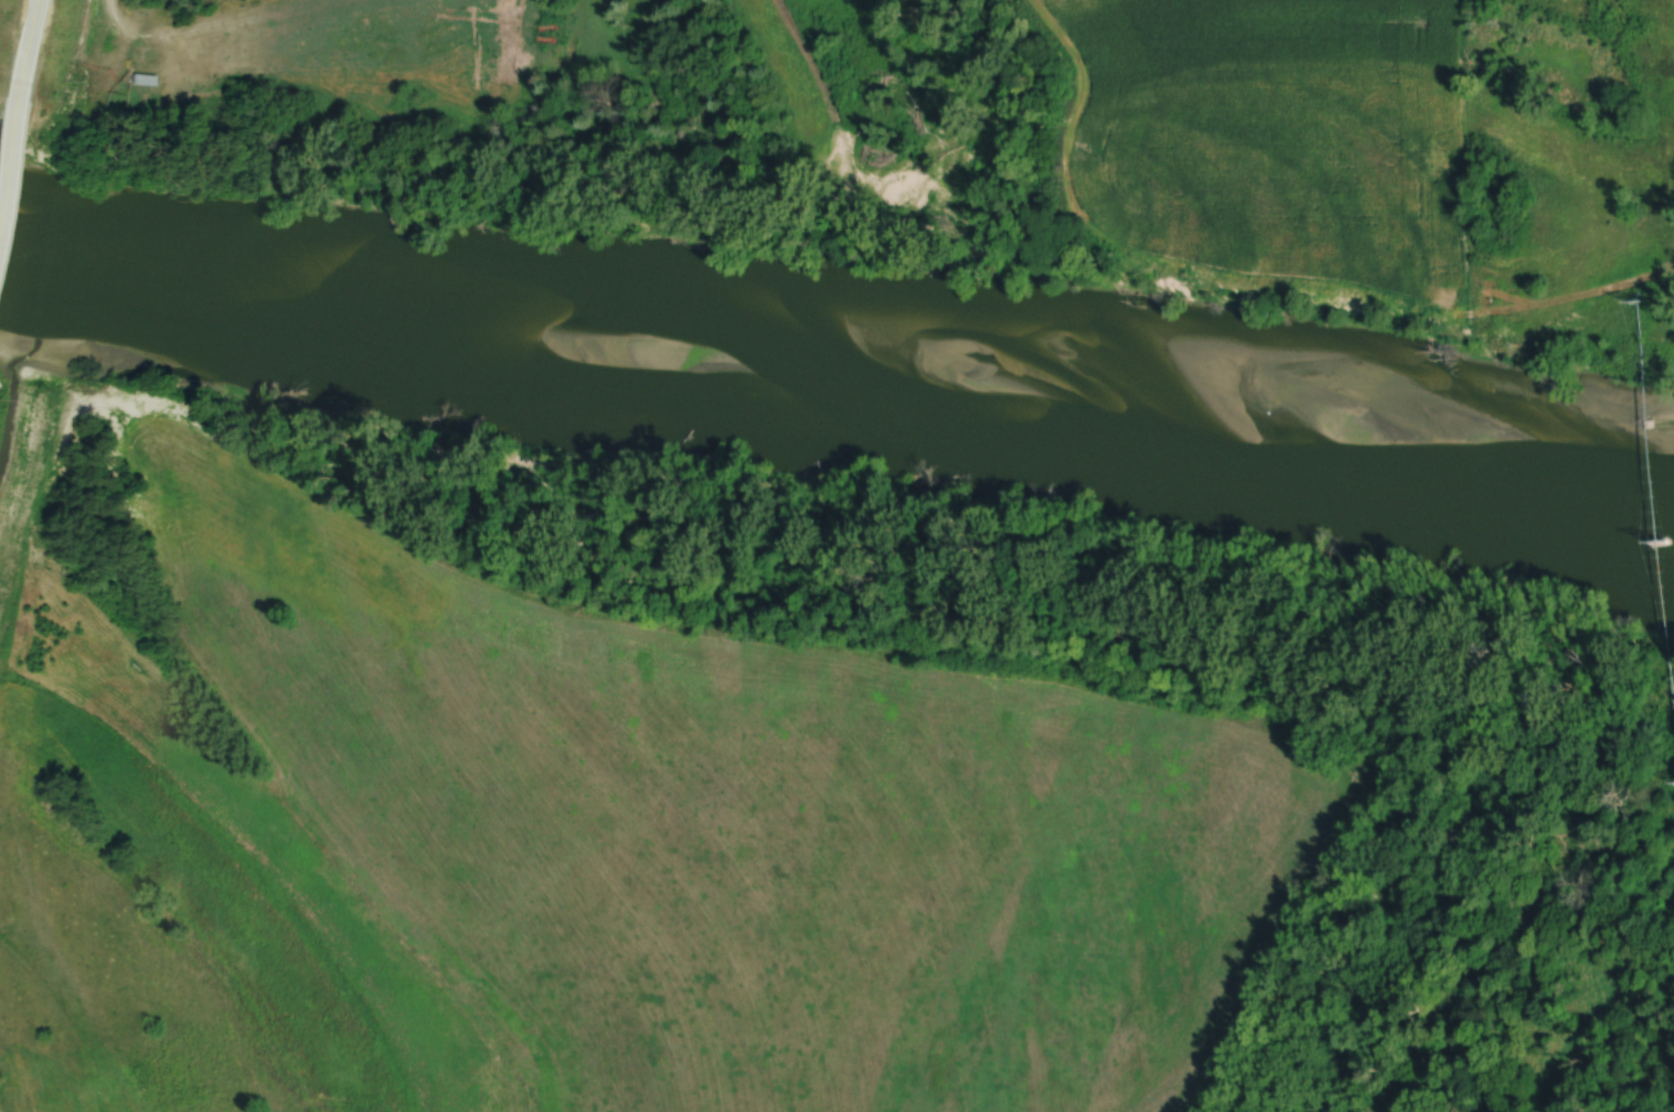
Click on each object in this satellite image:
road: (23, 49)
building: (143, 81)
road: (7, 127)
river: (854, 311)

